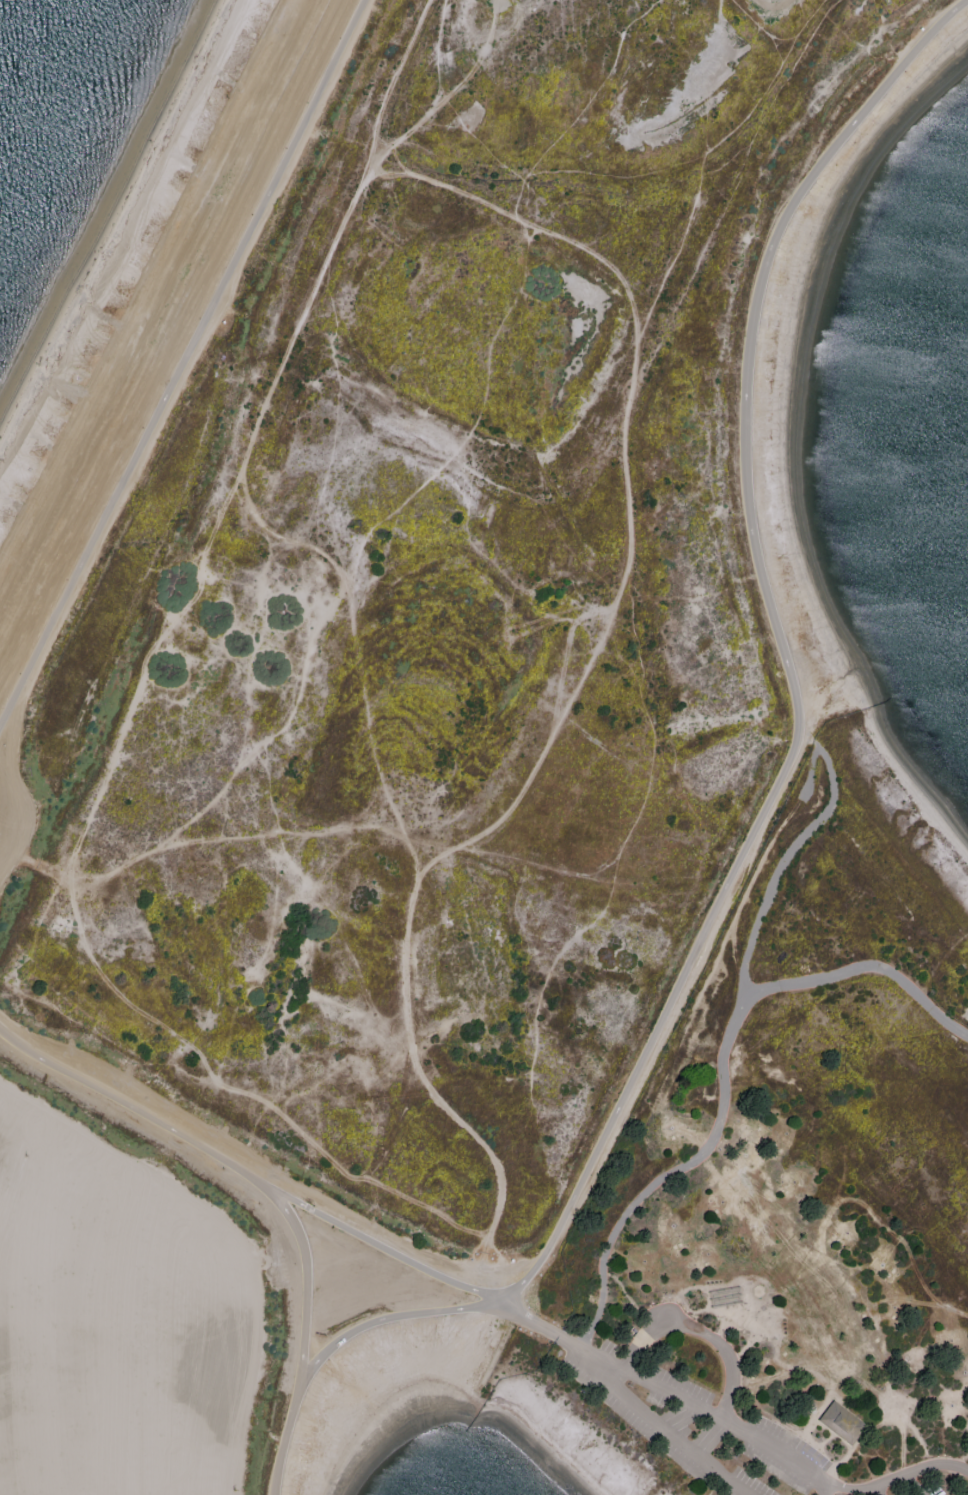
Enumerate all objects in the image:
road: (181, 363)
road: (783, 651)
park: (467, 783)
road: (785, 859)
road: (723, 1073)
road: (131, 1108)
road: (382, 1245)
road: (379, 1319)
road: (539, 1325)
road: (699, 1334)
road: (304, 1335)
road: (708, 1415)
building: (842, 1421)
road: (656, 1429)
road: (920, 1471)
road: (910, 1487)
road: (850, 1492)
road: (877, 1492)

